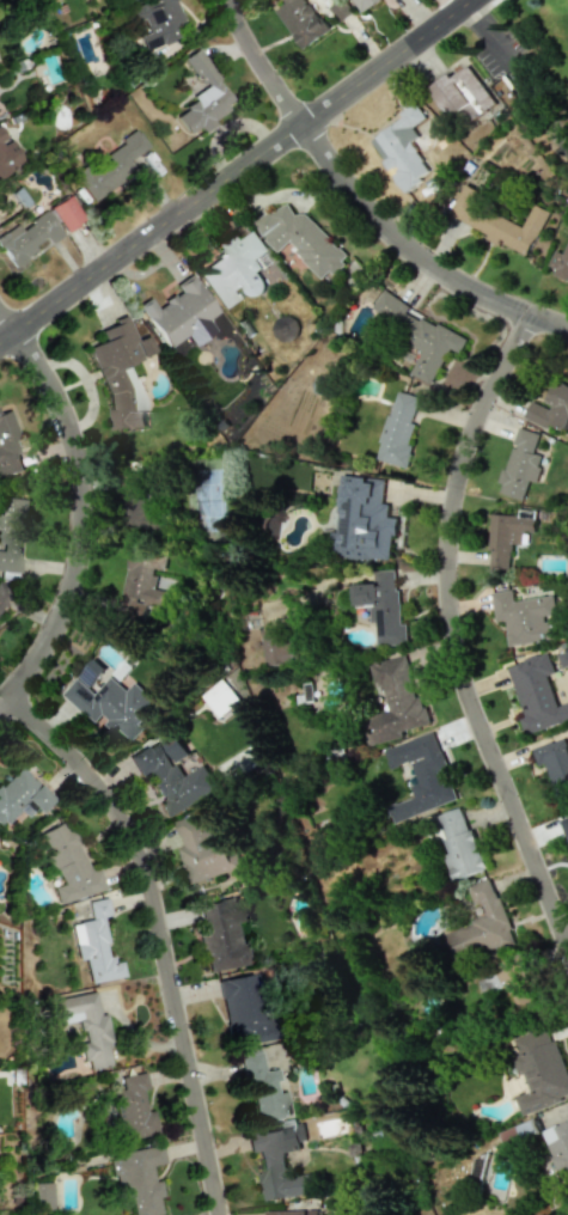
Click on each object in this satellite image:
building: (365, 4)
building: (300, 20)
building: (155, 22)
park: (523, 67)
building: (462, 94)
building: (202, 97)
building: (402, 148)
building: (7, 157)
building: (109, 166)
road: (231, 169)
road: (361, 202)
building: (66, 213)
building: (497, 221)
building: (301, 239)
building: (26, 240)
building: (560, 264)
building: (234, 270)
building: (177, 311)
building: (283, 329)
building: (419, 335)
building: (120, 372)
building: (550, 408)
building: (398, 431)
building: (8, 450)
building: (520, 464)
road: (79, 505)
building: (139, 506)
building: (362, 520)
building: (12, 533)
building: (506, 537)
building: (145, 580)
building: (2, 593)
building: (383, 607)
building: (526, 617)
road: (454, 631)
building: (283, 648)
building: (307, 691)
building: (536, 694)
building: (220, 698)
building: (110, 701)
building: (395, 702)
building: (554, 761)
building: (421, 775)
building: (171, 779)
building: (19, 794)
building: (564, 825)
building: (459, 844)
building: (206, 847)
building: (66, 865)
building: (484, 922)
road: (163, 929)
building: (219, 934)
building: (92, 944)
building: (515, 983)
building: (242, 1009)
building: (83, 1027)
building: (540, 1070)
building: (262, 1091)
building: (130, 1109)
building: (517, 1134)
building: (558, 1148)
building: (280, 1161)
building: (134, 1179)
building: (39, 1196)
building: (295, 1211)

